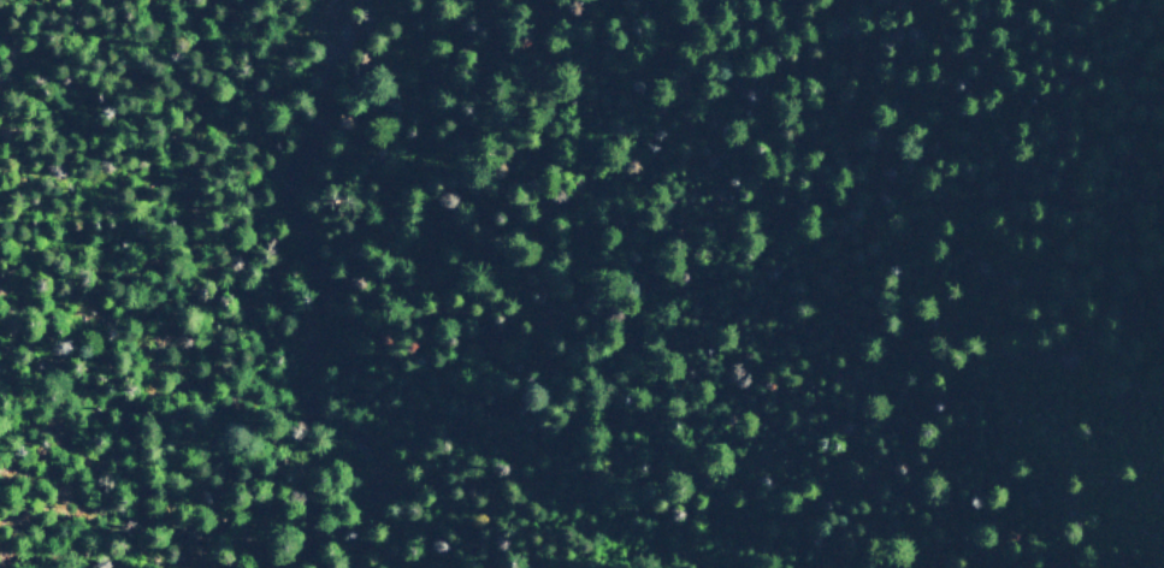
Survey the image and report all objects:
road: (1110, 165)

